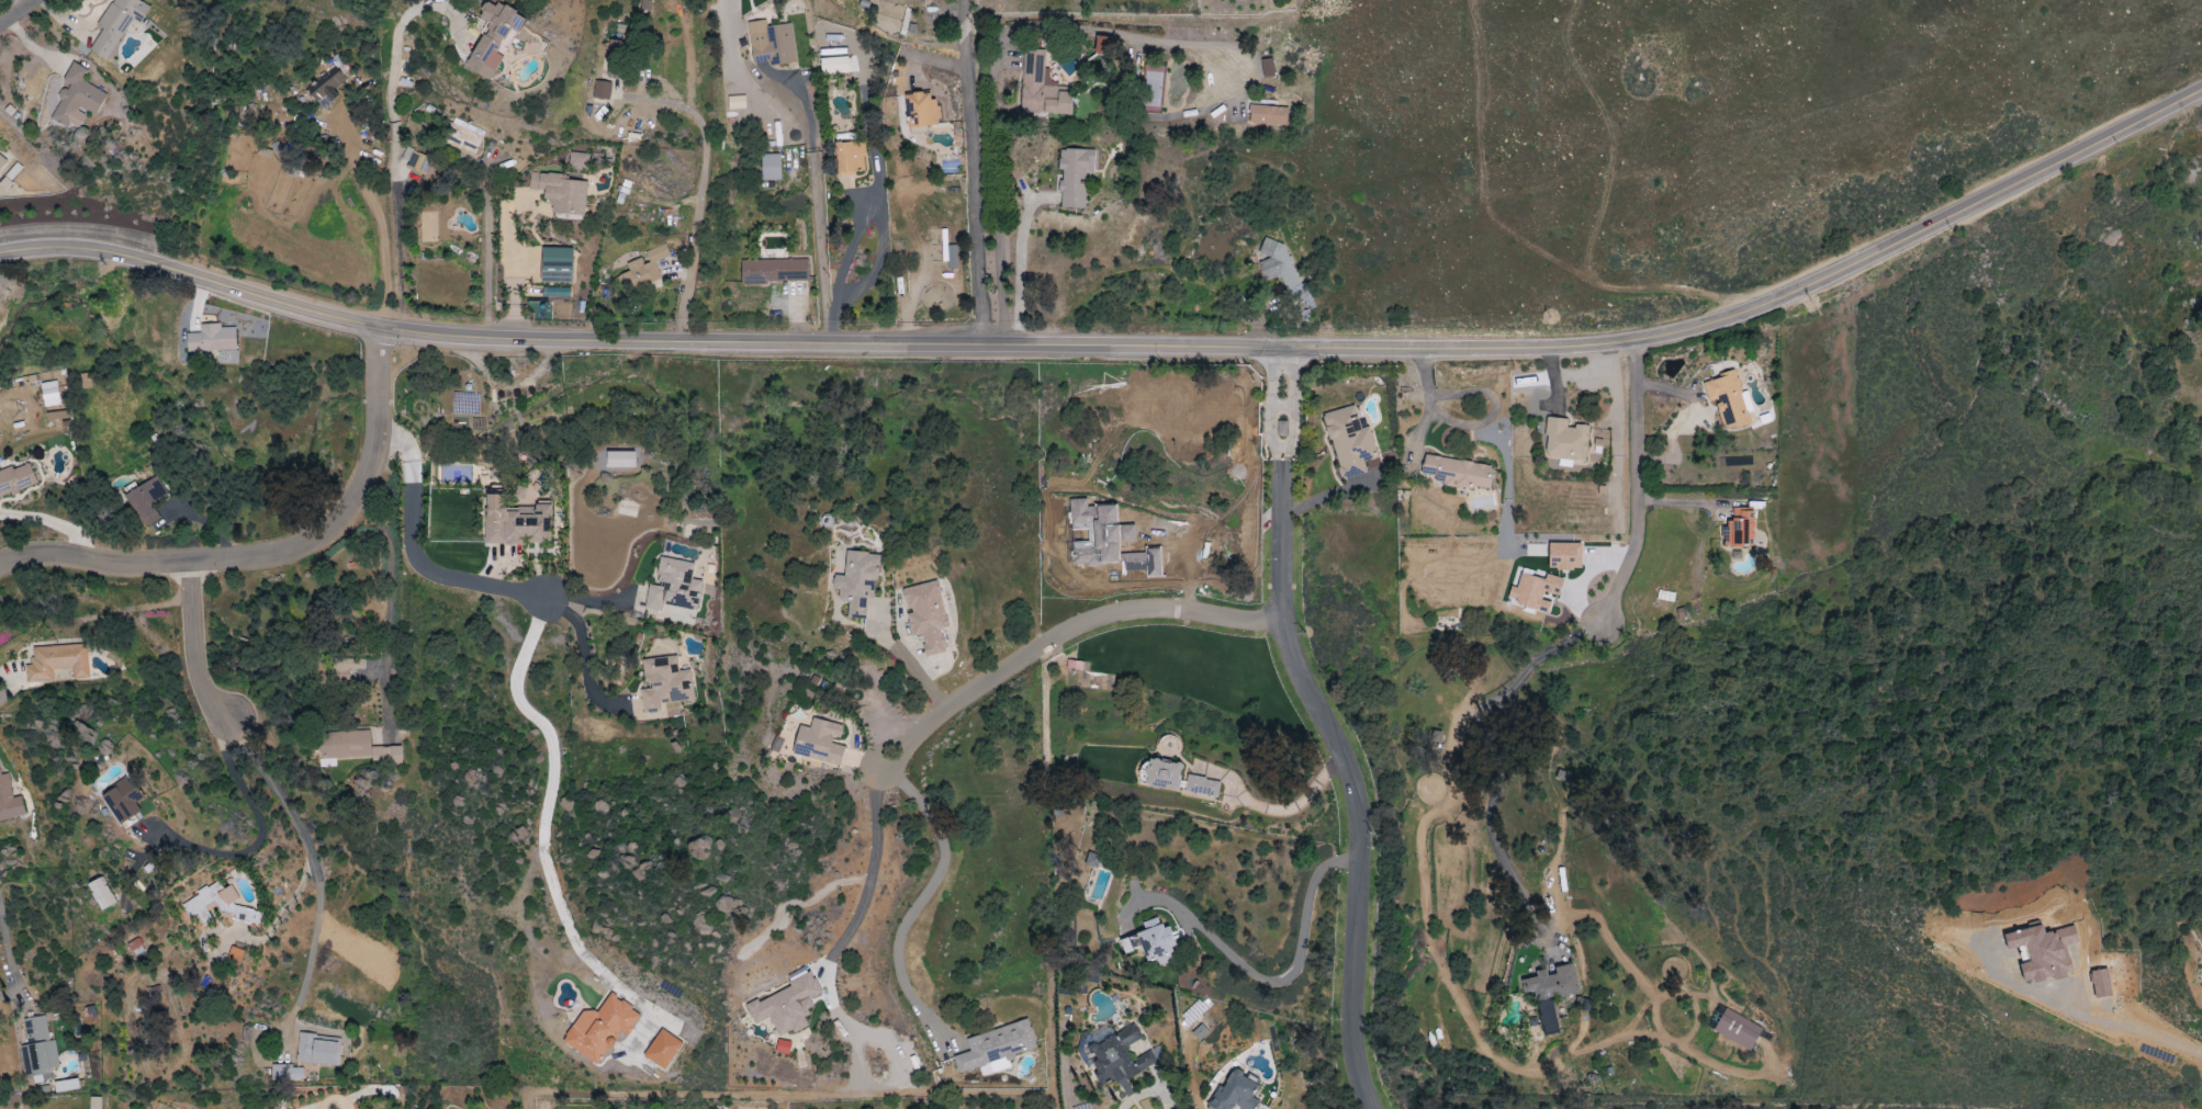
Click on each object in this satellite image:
road: (13, 9)
building: (120, 25)
building: (494, 41)
building: (771, 44)
building: (1103, 44)
building: (615, 60)
building: (834, 66)
building: (1066, 66)
building: (1267, 67)
building: (1153, 86)
building: (326, 87)
building: (1042, 88)
building: (602, 90)
building: (76, 100)
building: (922, 110)
building: (1268, 114)
road: (393, 135)
building: (465, 135)
building: (850, 156)
building: (578, 160)
building: (2, 162)
building: (418, 162)
building: (771, 167)
building: (12, 172)
road: (985, 173)
building: (1075, 177)
road: (872, 191)
building: (561, 192)
road: (699, 201)
road: (813, 205)
road: (1497, 224)
road: (380, 231)
road: (486, 251)
building: (557, 264)
building: (643, 269)
road: (874, 269)
building: (774, 270)
building: (1284, 274)
building: (212, 338)
road: (1124, 348)
building: (49, 394)
building: (1728, 399)
road: (1426, 405)
building: (1565, 440)
building: (1350, 442)
building: (620, 459)
building: (1458, 472)
building: (15, 478)
road: (1637, 485)
building: (146, 500)
road: (49, 522)
building: (516, 522)
building: (1741, 528)
road: (273, 551)
road: (412, 552)
building: (1565, 556)
building: (857, 581)
road: (386, 585)
building: (674, 586)
building: (1532, 588)
road: (593, 599)
building: (926, 614)
road: (1061, 634)
road: (193, 646)
road: (583, 648)
building: (57, 661)
road: (905, 661)
building: (1075, 665)
building: (1096, 681)
building: (664, 683)
road: (9, 688)
road: (1340, 724)
building: (820, 742)
building: (357, 748)
road: (1502, 768)
building: (1164, 774)
building: (1202, 787)
building: (9, 801)
building: (123, 801)
road: (1277, 810)
road: (542, 829)
road: (267, 836)
road: (315, 868)
road: (869, 876)
building: (101, 893)
road: (922, 898)
building: (218, 905)
building: (1153, 942)
building: (234, 955)
road: (9, 957)
road: (1296, 976)
building: (1552, 993)
building: (786, 1006)
road: (2134, 1022)
building: (600, 1028)
building: (1738, 1030)
building: (997, 1046)
building: (318, 1050)
building: (662, 1050)
building: (1120, 1059)
building: (287, 1073)
building: (66, 1085)
road: (1145, 1093)
building: (1235, 1094)
building: (94, 1102)

